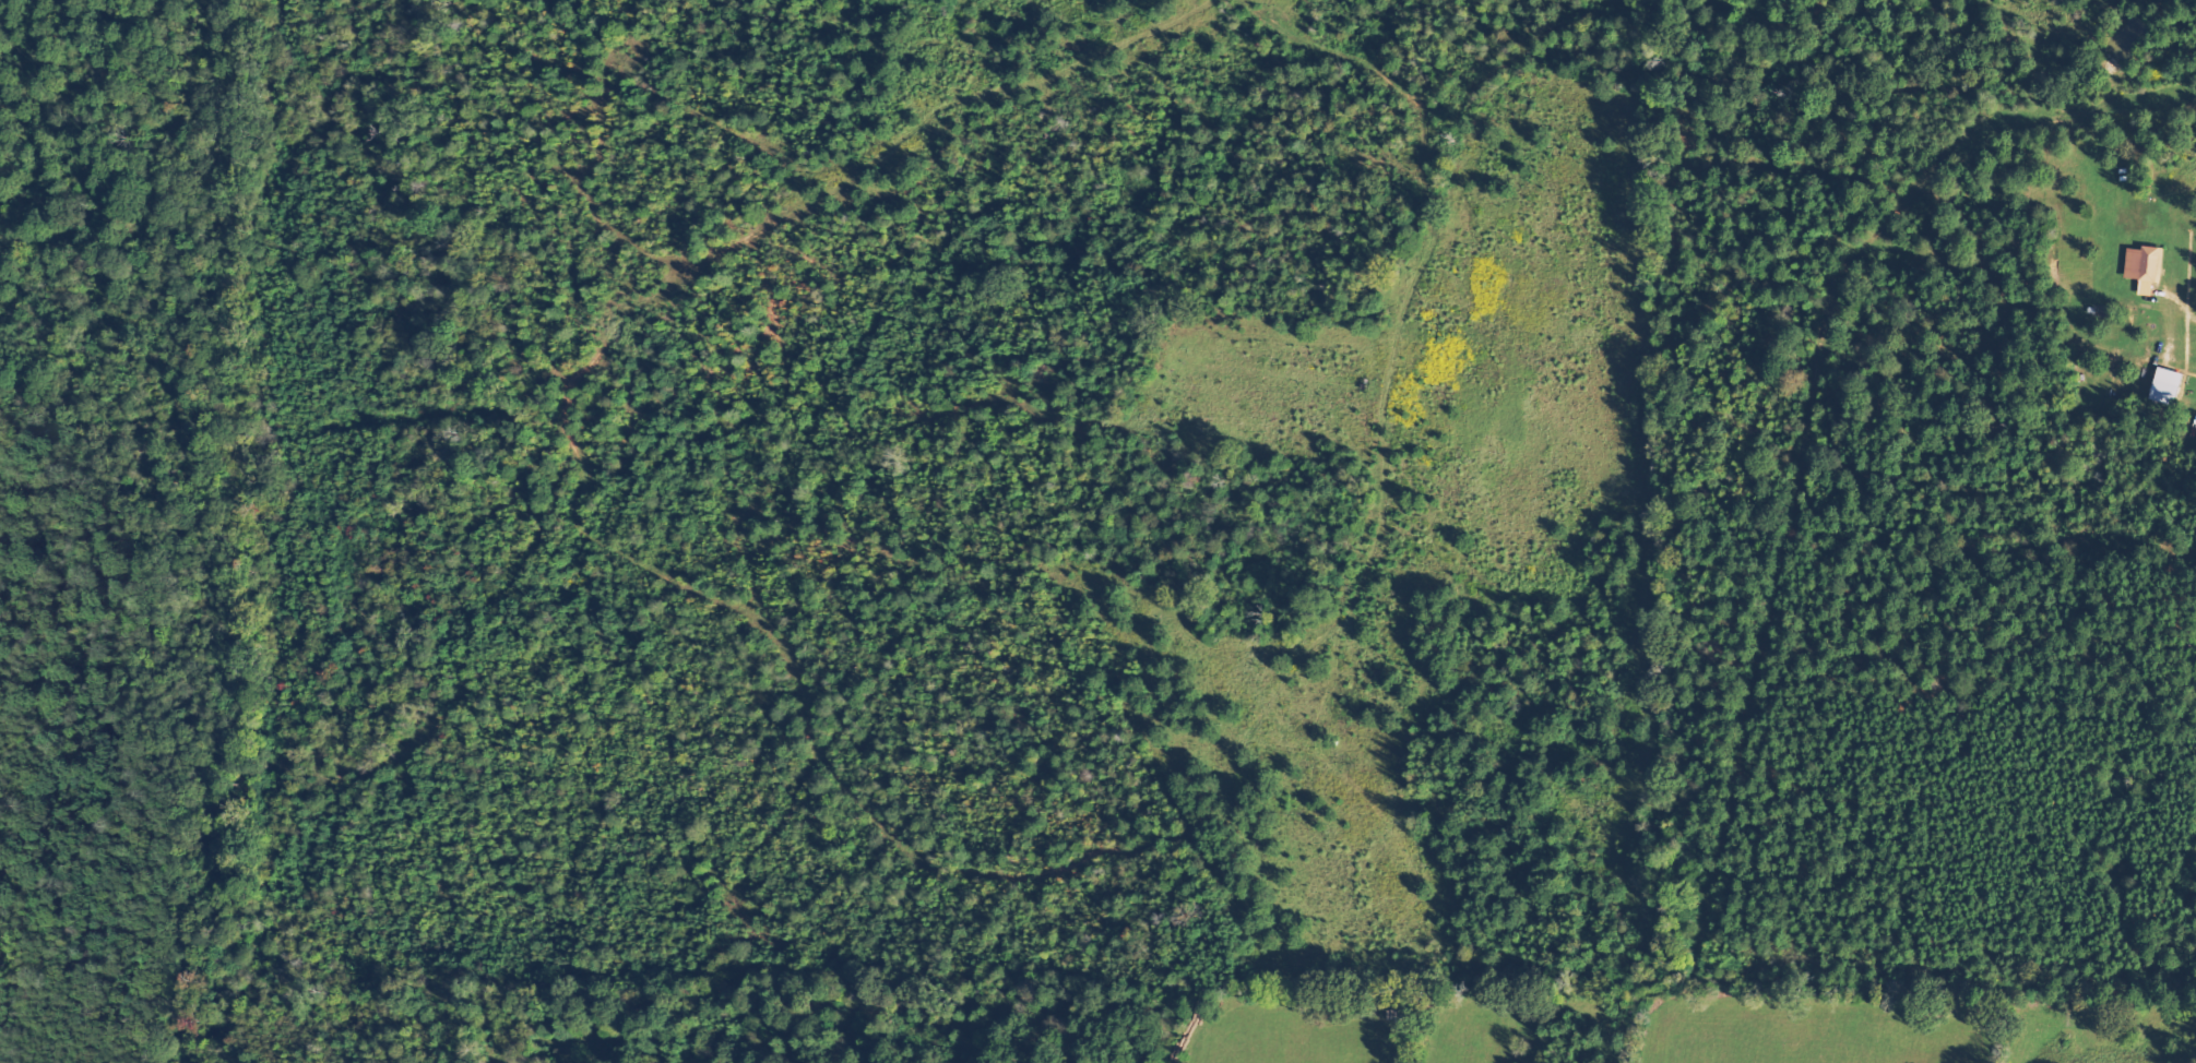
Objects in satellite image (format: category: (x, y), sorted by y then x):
building: (2147, 266)
building: (2168, 385)

